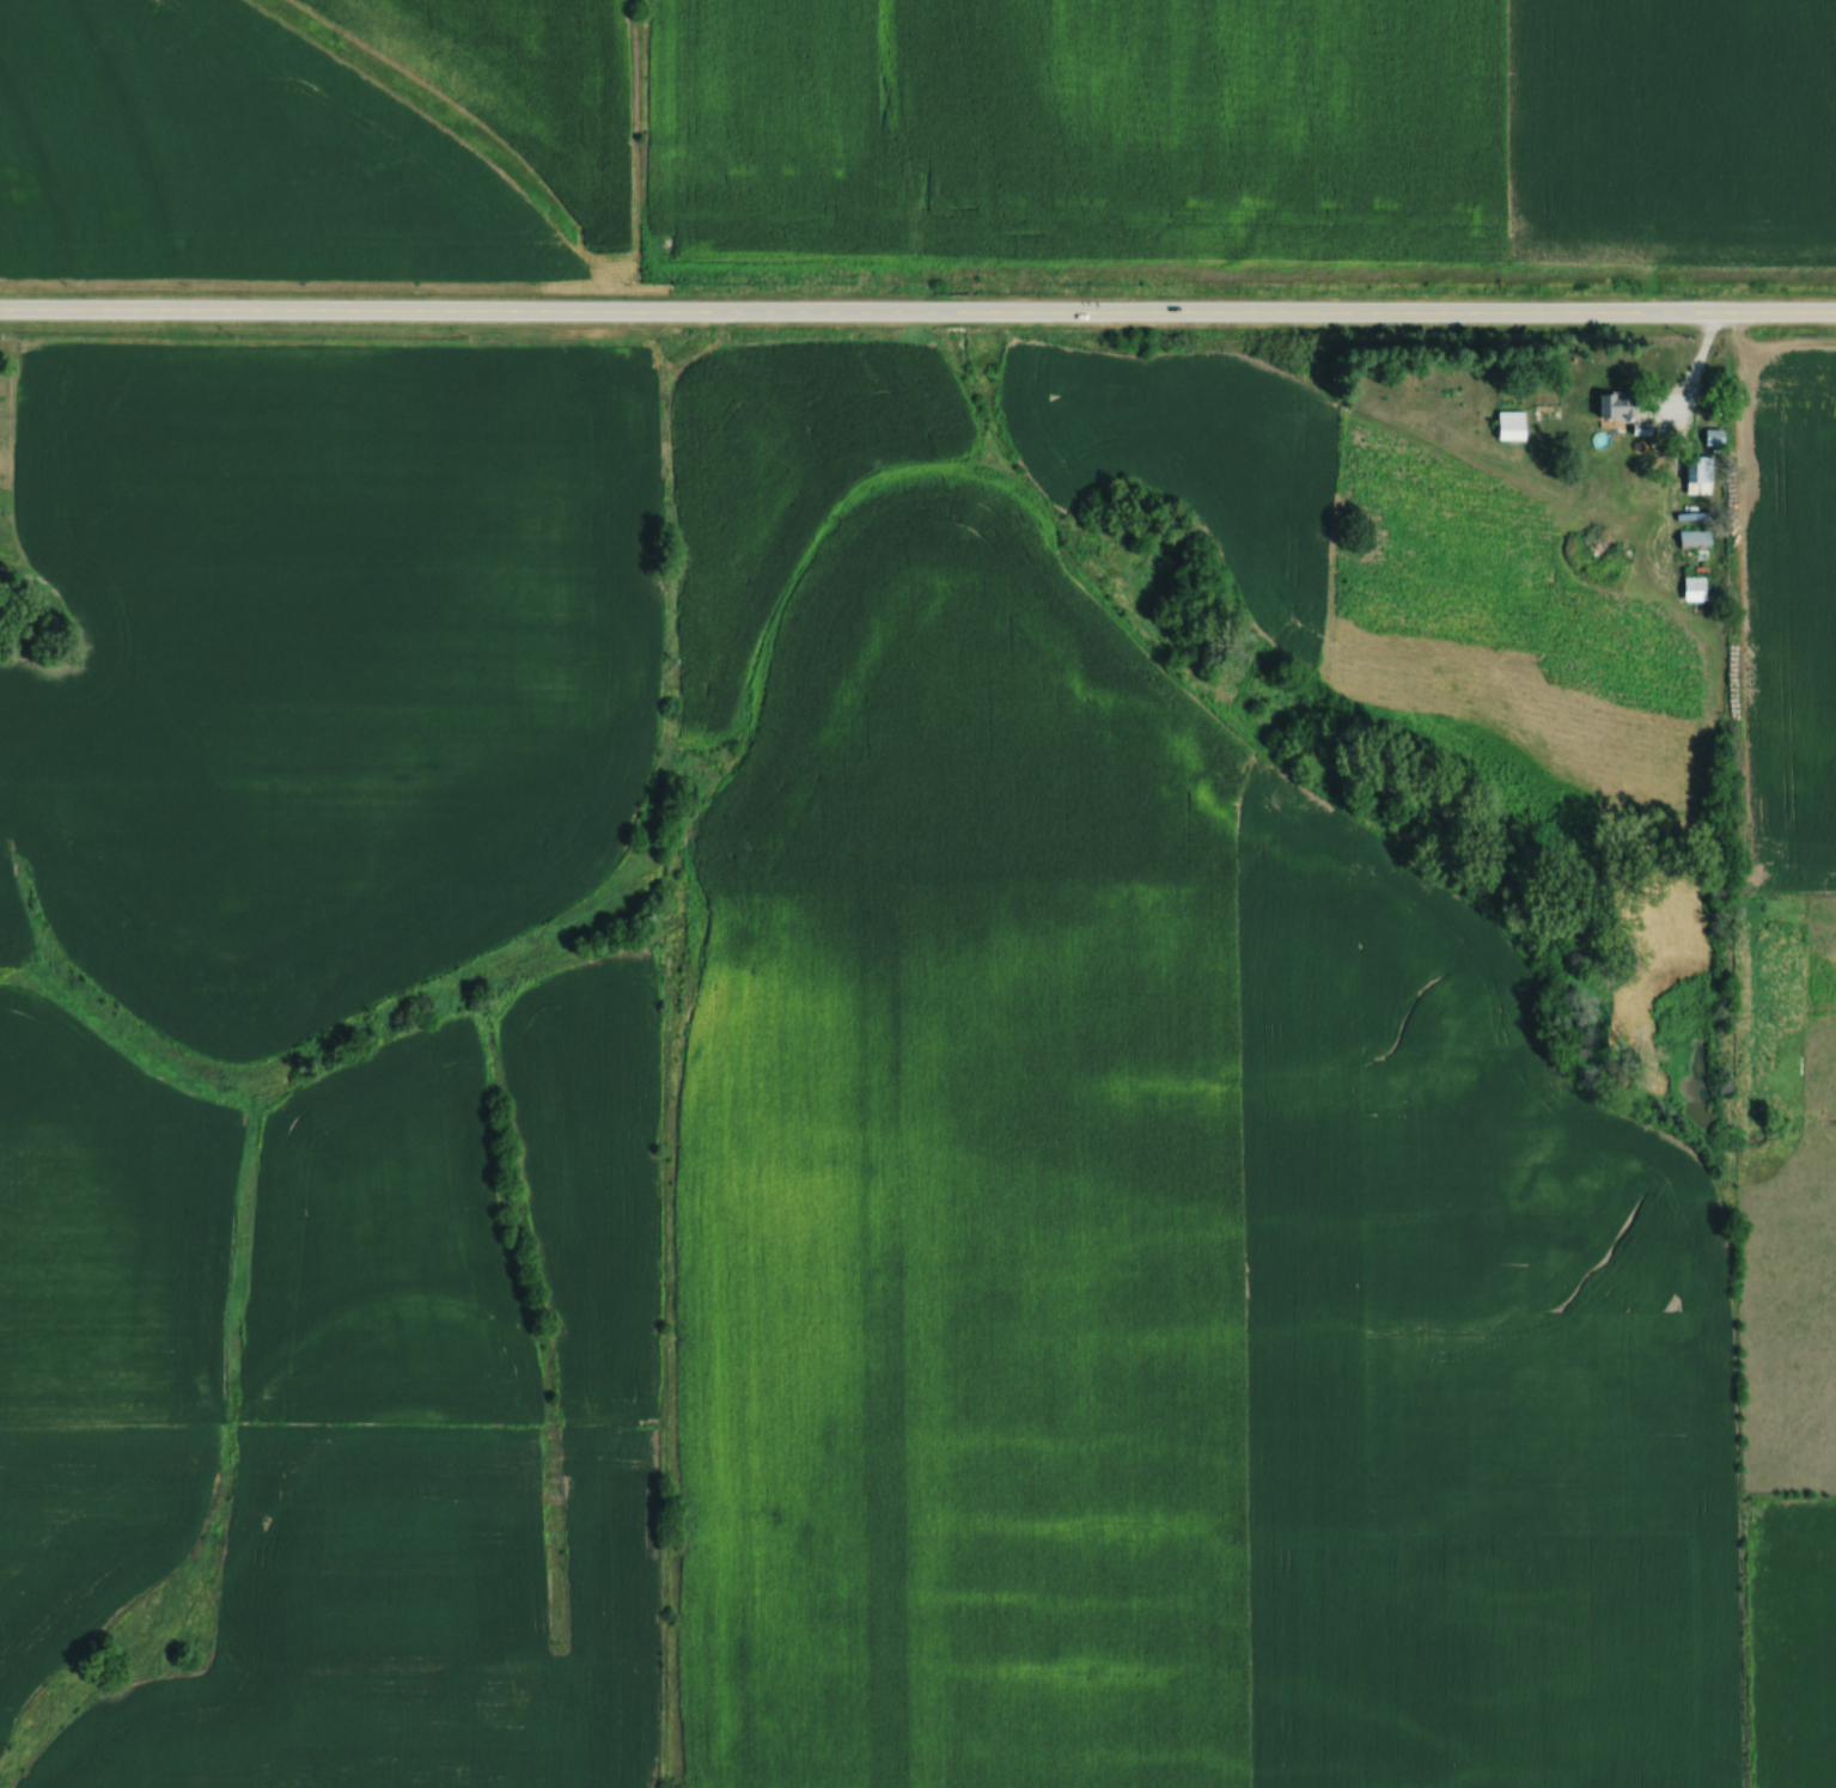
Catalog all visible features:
road: (917, 311)
building: (1623, 403)
building: (1515, 423)
building: (1718, 434)
building: (1703, 472)
building: (1698, 538)
building: (1697, 585)

